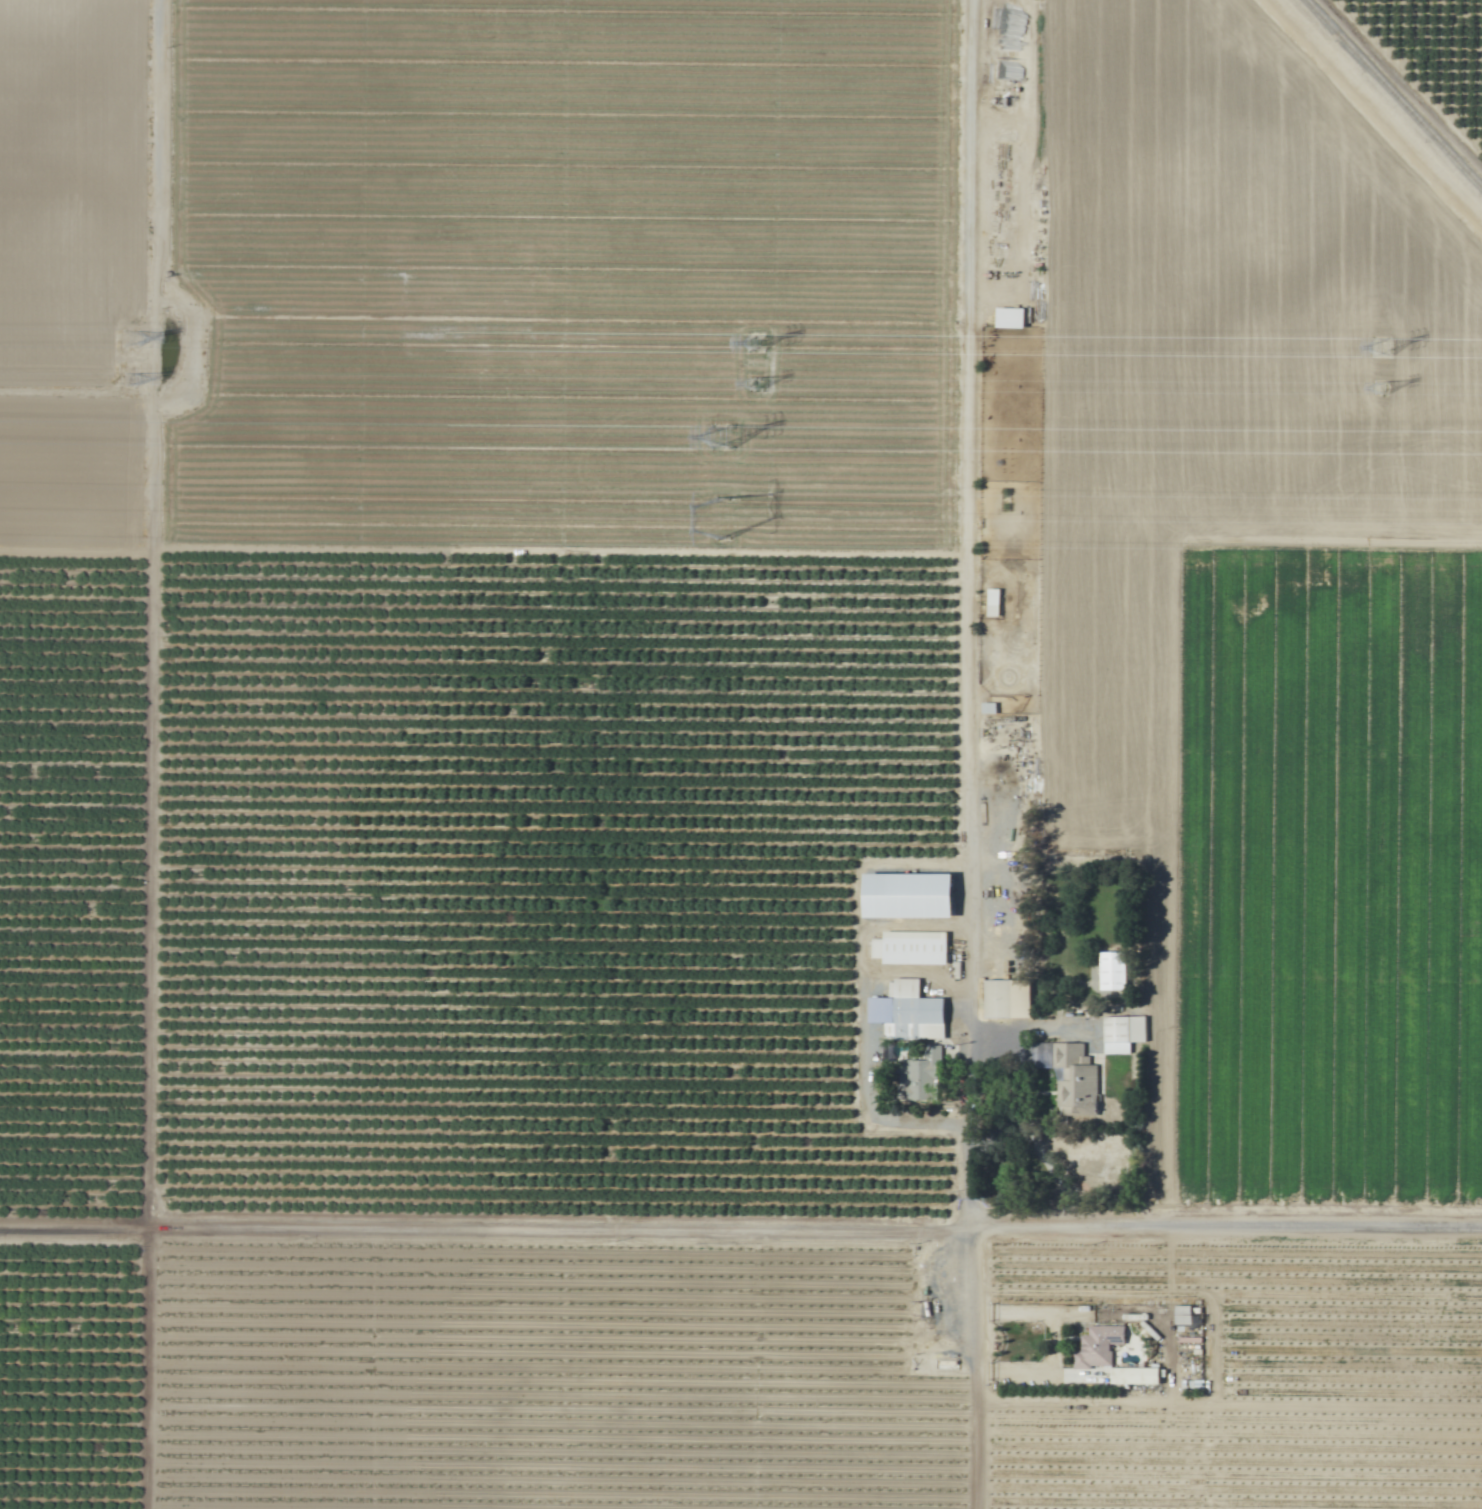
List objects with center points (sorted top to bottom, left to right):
road: (1405, 81)
railway: (1393, 94)
power tower: (135, 342)
power tower: (762, 344)
power tower: (1384, 349)
power tower: (138, 384)
power tower: (764, 386)
power tower: (1388, 390)
power tower: (730, 446)
power tower: (727, 520)
road: (74, 549)
building: (992, 602)
building: (987, 709)
road: (146, 754)
crop: (741, 754)
road: (992, 754)
building: (904, 896)
building: (1006, 1000)
building: (906, 1013)
building: (1122, 1034)
building: (1069, 1077)
building: (919, 1078)
road: (740, 1227)
building: (1097, 1345)
building: (1129, 1376)

